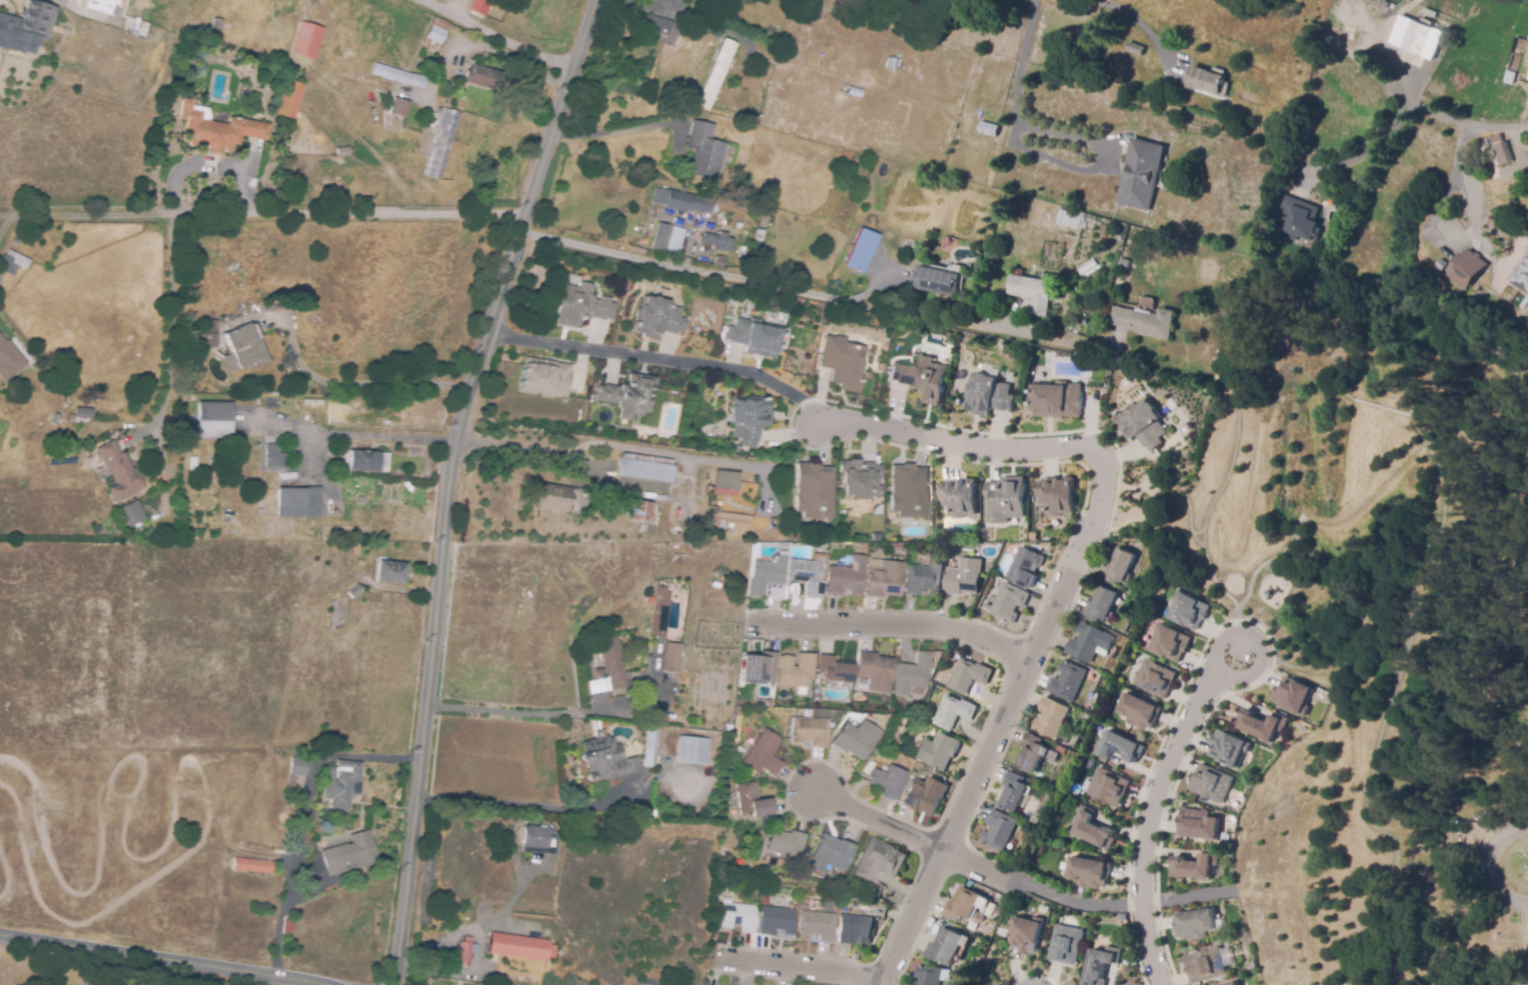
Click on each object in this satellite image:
building: (105, 6)
building: (478, 6)
road: (1140, 23)
building: (214, 26)
building: (26, 27)
building: (665, 29)
building: (1346, 31)
building: (433, 35)
road: (493, 36)
building: (1418, 37)
building: (305, 38)
building: (1135, 48)
building: (388, 74)
building: (715, 75)
building: (483, 78)
building: (1509, 78)
building: (1205, 79)
building: (416, 81)
building: (853, 92)
building: (288, 99)
building: (398, 108)
road: (1018, 110)
road: (1466, 120)
building: (988, 130)
building: (216, 131)
road: (613, 131)
building: (439, 142)
road: (1365, 148)
building: (704, 151)
building: (342, 152)
building: (1502, 155)
building: (1140, 173)
road: (1457, 189)
building: (683, 201)
road: (267, 213)
road: (4, 215)
building: (1069, 217)
building: (1300, 219)
building: (763, 220)
road: (4, 223)
building: (759, 236)
building: (666, 238)
building: (717, 243)
building: (860, 249)
building: (718, 261)
building: (12, 262)
building: (1440, 265)
building: (1466, 268)
road: (702, 269)
building: (1520, 278)
building: (937, 281)
building: (1032, 292)
building: (730, 301)
building: (578, 303)
building: (654, 316)
building: (1145, 322)
road: (168, 324)
road: (986, 328)
building: (753, 335)
building: (207, 336)
building: (240, 349)
road: (591, 349)
building: (840, 360)
building: (8, 361)
road: (698, 364)
building: (878, 366)
building: (922, 377)
building: (545, 378)
road: (359, 383)
building: (627, 394)
building: (987, 394)
building: (1057, 399)
building: (79, 408)
building: (81, 413)
building: (746, 417)
building: (212, 419)
building: (1142, 423)
road: (378, 436)
building: (734, 448)
building: (277, 455)
road: (698, 457)
building: (364, 461)
building: (644, 472)
building: (117, 473)
building: (858, 477)
building: (725, 480)
road: (452, 484)
building: (812, 489)
building: (907, 489)
building: (1056, 494)
building: (958, 495)
building: (553, 497)
building: (1004, 499)
building: (298, 502)
building: (127, 512)
building: (639, 512)
road: (1091, 532)
building: (875, 535)
building: (1034, 536)
building: (1046, 544)
building: (355, 549)
building: (753, 550)
building: (360, 563)
building: (1025, 567)
building: (1119, 569)
building: (391, 572)
building: (807, 576)
building: (846, 577)
building: (925, 577)
building: (768, 578)
building: (964, 578)
building: (884, 580)
building: (354, 591)
building: (648, 599)
building: (525, 603)
building: (1008, 603)
building: (1101, 604)
building: (1188, 610)
building: (659, 613)
building: (338, 616)
road: (903, 625)
building: (1168, 641)
building: (1090, 643)
building: (671, 657)
building: (608, 669)
building: (757, 669)
road: (1219, 669)
building: (793, 670)
building: (835, 670)
building: (874, 671)
building: (913, 671)
building: (968, 676)
building: (1154, 677)
building: (1068, 681)
building: (861, 689)
building: (1292, 694)
building: (769, 703)
building: (743, 711)
building: (1137, 711)
building: (952, 712)
road: (513, 714)
building: (1051, 718)
building: (1261, 724)
building: (808, 732)
building: (854, 739)
building: (1117, 746)
building: (650, 747)
building: (1226, 747)
building: (694, 750)
building: (937, 750)
building: (1037, 753)
building: (762, 754)
park: (1487, 754)
building: (606, 759)
building: (298, 775)
building: (730, 779)
building: (885, 780)
building: (1210, 783)
building: (342, 784)
building: (1110, 787)
building: (1016, 792)
building: (925, 796)
building: (752, 801)
road: (525, 804)
building: (651, 813)
road: (305, 816)
road: (1149, 820)
road: (878, 824)
building: (1019, 824)
building: (1199, 824)
building: (1094, 828)
building: (999, 830)
building: (1454, 839)
building: (536, 840)
building: (784, 843)
building: (1016, 854)
building: (350, 855)
building: (829, 855)
building: (880, 861)
building: (250, 865)
building: (1195, 865)
road: (1492, 865)
building: (429, 870)
building: (1091, 872)
road: (1039, 888)
building: (805, 905)
building: (965, 905)
building: (998, 910)
building: (739, 917)
building: (1124, 917)
building: (978, 919)
building: (777, 921)
building: (1194, 924)
building: (817, 926)
road: (468, 928)
building: (855, 930)
building: (1028, 934)
road: (1527, 944)
building: (1067, 945)
building: (518, 947)
building: (947, 948)
building: (465, 951)
road: (164, 959)
building: (977, 961)
building: (1102, 965)
road: (92, 967)
building: (1207, 968)
road: (814, 973)
building: (933, 975)
building: (913, 984)
building: (1233, 984)

